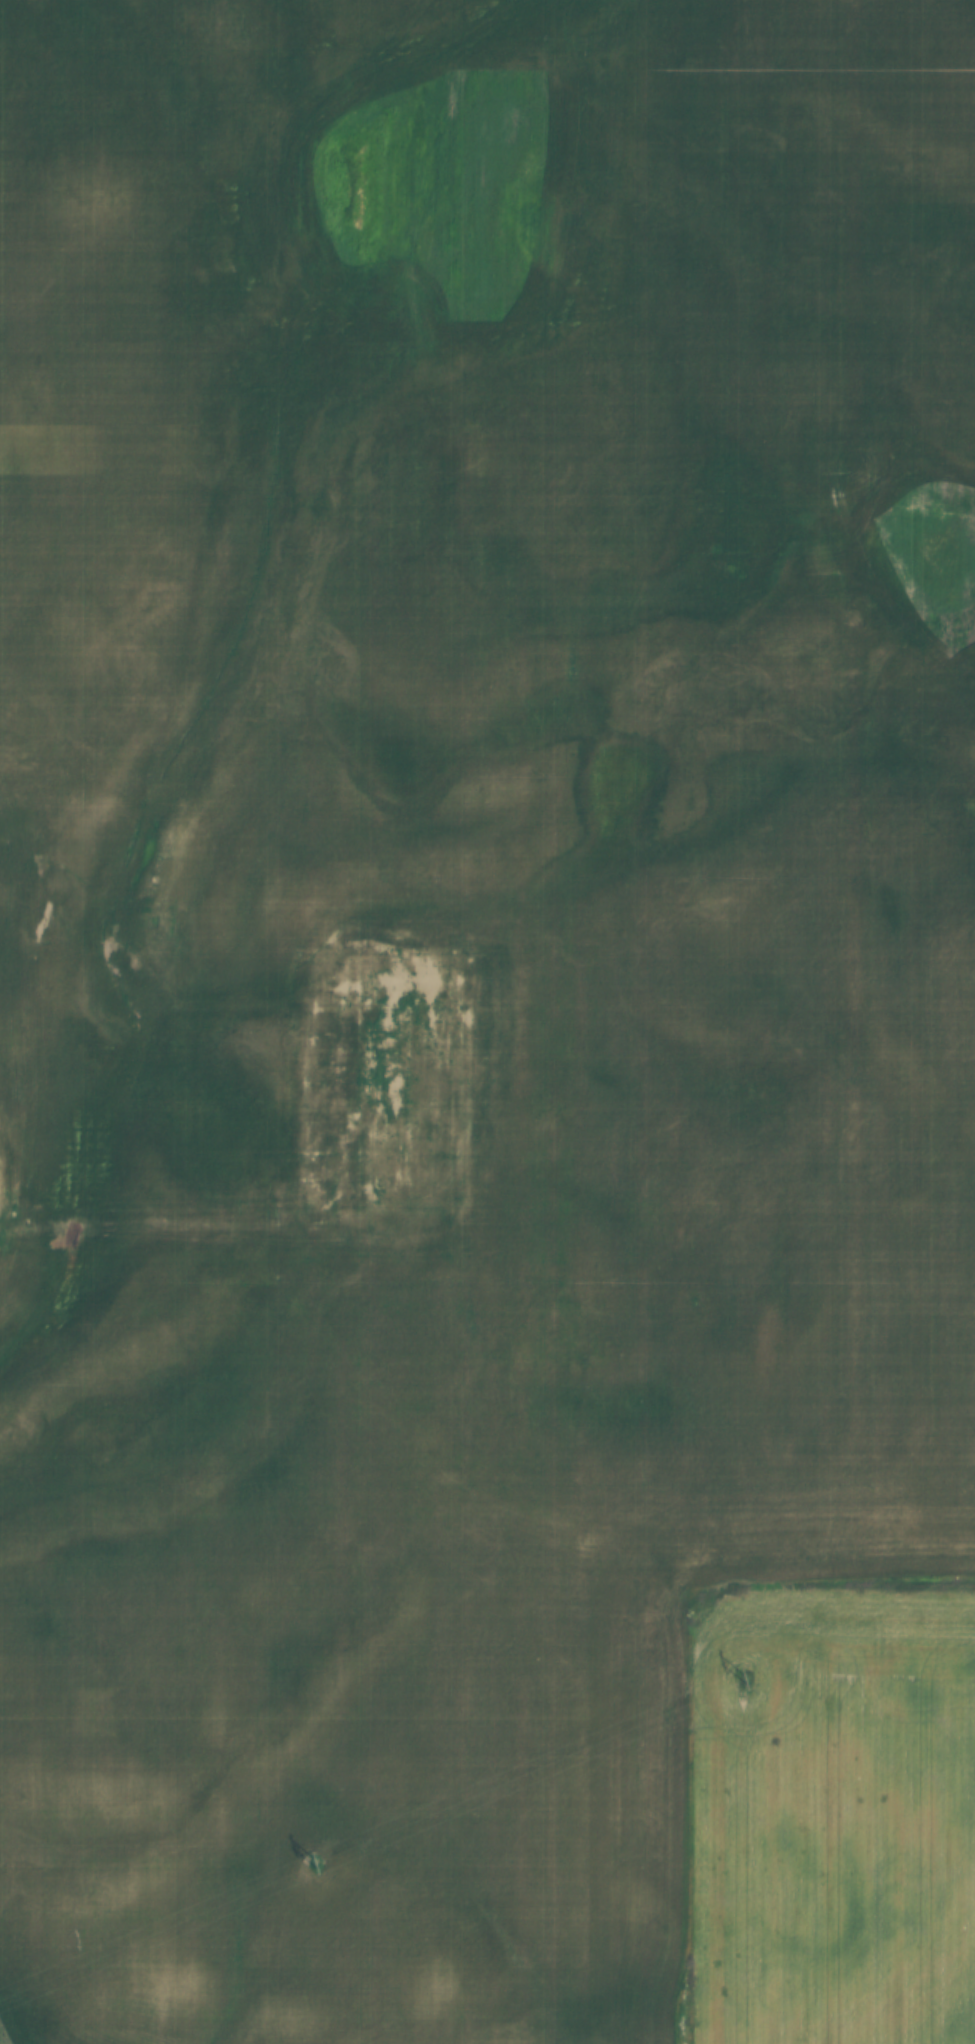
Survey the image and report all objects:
road: (243, 1223)
power tower: (744, 1677)
power tower: (315, 1862)

